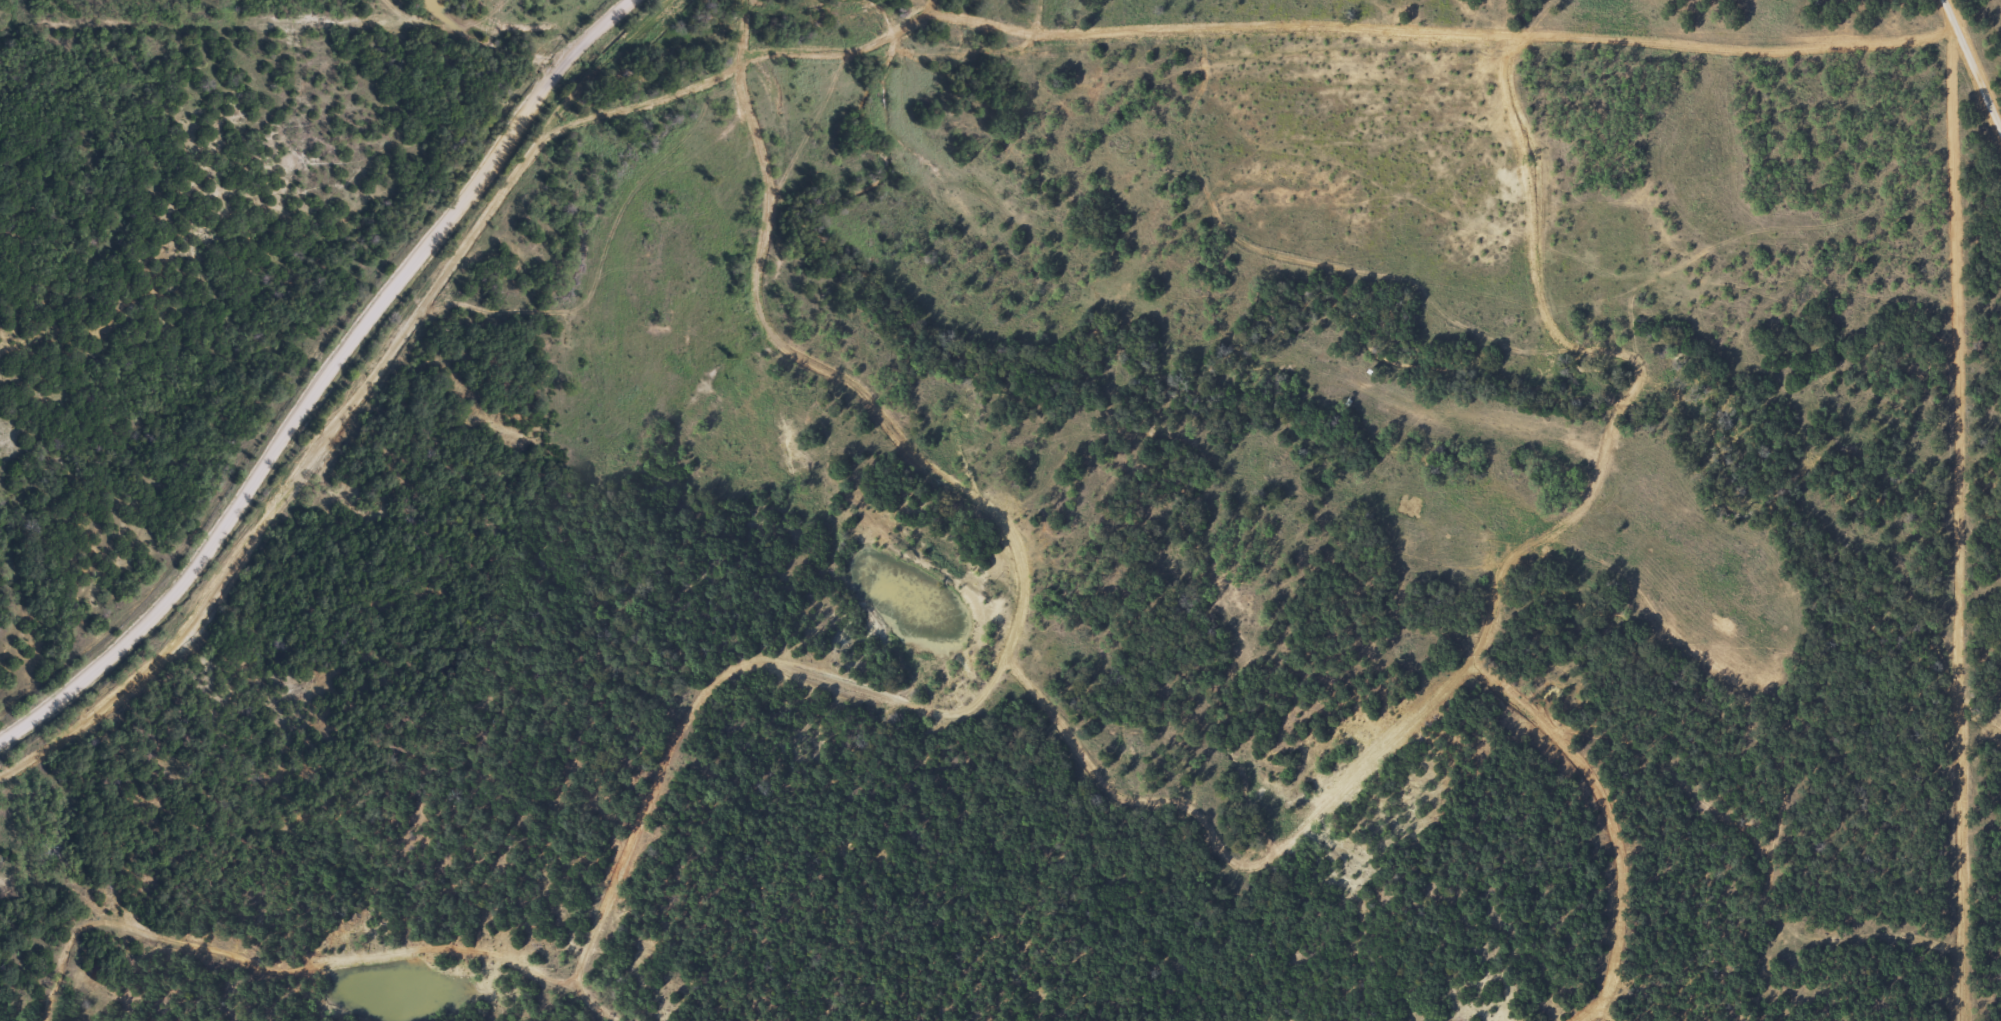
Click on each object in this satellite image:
road: (453, 11)
road: (1085, 43)
road: (1974, 66)
road: (1515, 108)
road: (862, 379)
road: (325, 384)
road: (1526, 517)

